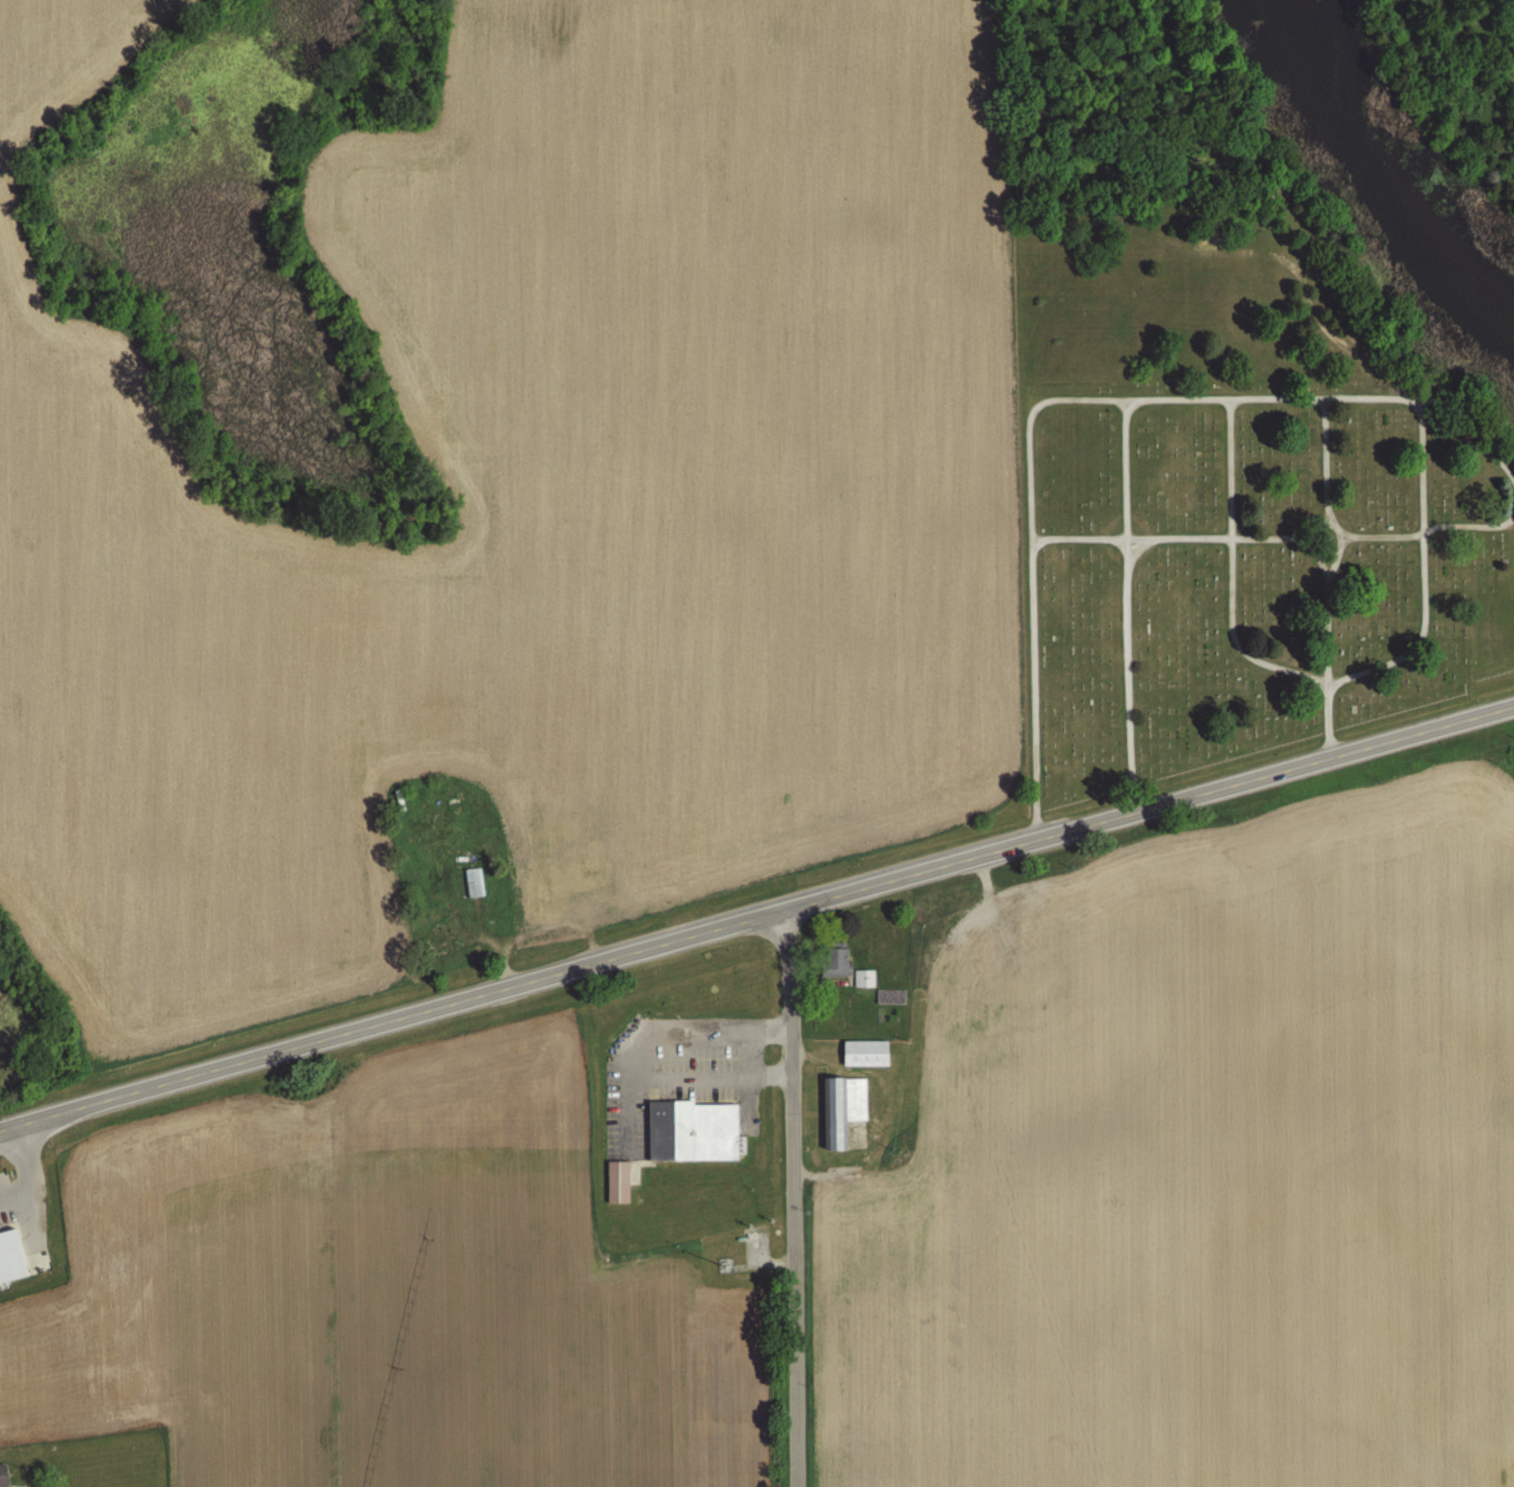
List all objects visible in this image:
river: (1411, 180)
road: (1337, 335)
road: (1215, 395)
road: (1232, 399)
road: (1131, 404)
road: (1500, 454)
road: (1126, 471)
road: (1037, 534)
road: (1361, 534)
road: (1183, 535)
road: (1138, 548)
road: (1232, 569)
park: (1233, 573)
road: (1326, 605)
road: (1128, 656)
road: (1150, 806)
building: (475, 882)
building: (1036, 931)
building: (988, 953)
building: (835, 961)
building: (934, 961)
building: (865, 978)
building: (891, 997)
road: (393, 1017)
building: (865, 1054)
building: (842, 1110)
building: (696, 1130)
road: (28, 1172)
parking lot: (3, 1176)
building: (618, 1182)
road: (787, 1197)
parking lot: (5, 1215)
building: (14, 1255)
building: (3, 1477)

